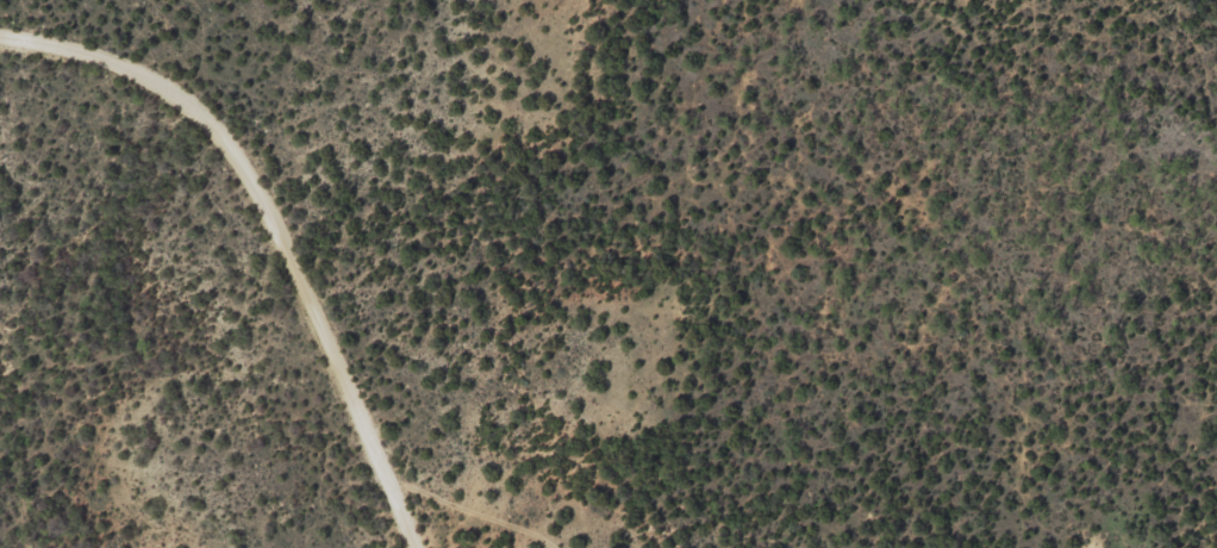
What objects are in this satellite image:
road: (254, 257)

